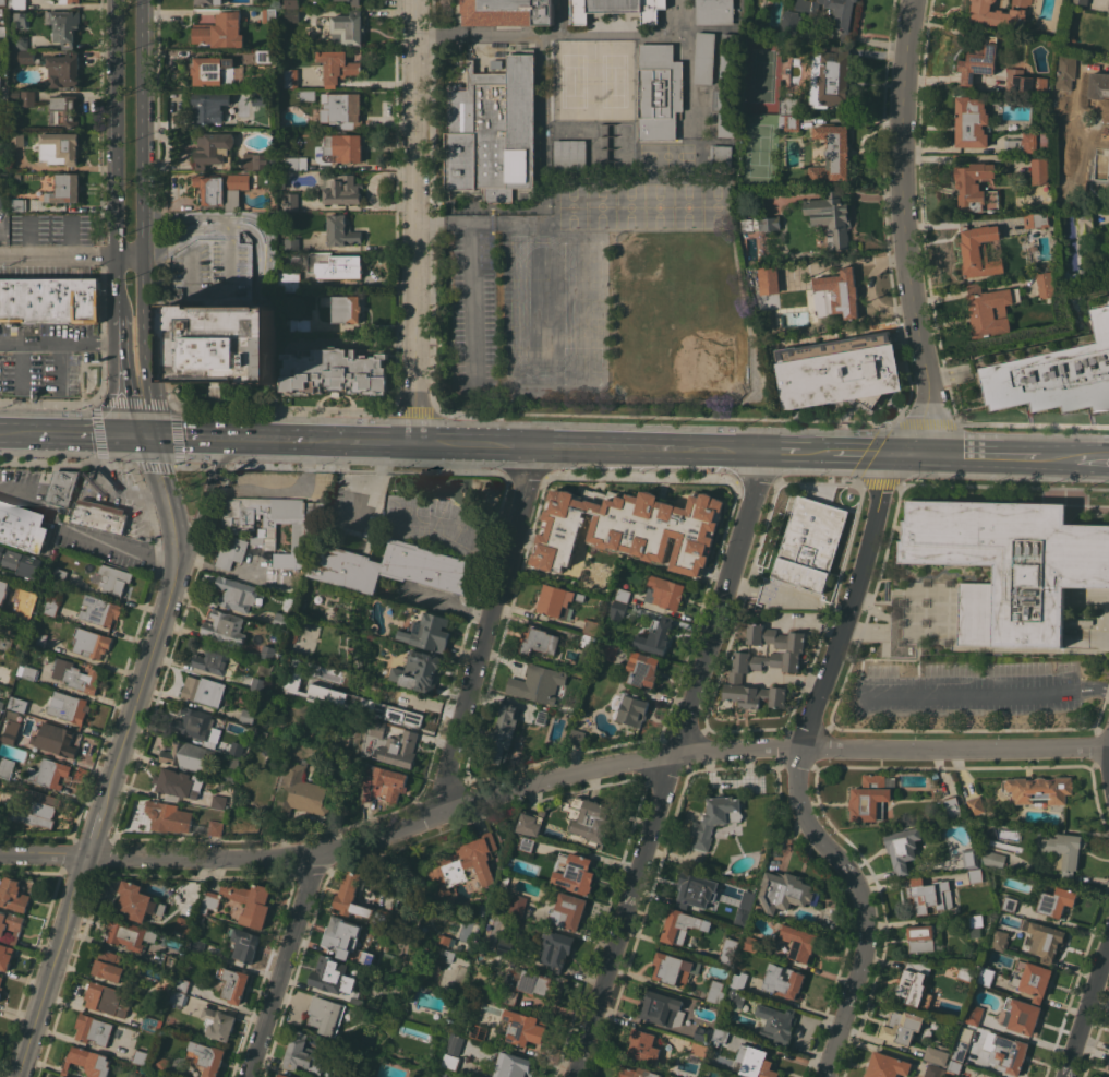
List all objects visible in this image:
building: (69, 1)
building: (209, 1)
building: (1082, 1)
building: (2, 2)
building: (1022, 2)
building: (289, 3)
building: (357, 3)
building: (17, 4)
building: (616, 9)
building: (714, 11)
building: (508, 12)
building: (1108, 12)
building: (291, 13)
building: (997, 14)
building: (269, 15)
building: (20, 20)
building: (842, 24)
building: (64, 26)
building: (348, 27)
building: (220, 31)
road: (639, 33)
road: (507, 35)
building: (21, 43)
building: (23, 56)
building: (266, 56)
building: (704, 58)
building: (727, 58)
building: (979, 58)
building: (497, 63)
building: (337, 65)
building: (3, 69)
building: (64, 70)
building: (215, 71)
building: (1066, 71)
building: (831, 76)
building: (290, 77)
building: (0, 80)
building: (1025, 82)
building: (1099, 85)
building: (660, 92)
building: (14, 94)
building: (308, 95)
building: (261, 97)
building: (27, 98)
building: (789, 105)
building: (209, 107)
building: (1063, 107)
building: (67, 109)
building: (342, 109)
building: (0, 110)
building: (728, 113)
building: (793, 122)
building: (972, 122)
road: (117, 128)
road: (146, 128)
building: (493, 131)
building: (17, 140)
building: (1023, 144)
building: (60, 147)
building: (342, 147)
building: (214, 149)
building: (832, 154)
building: (570, 155)
building: (721, 155)
building: (261, 160)
building: (297, 163)
building: (0, 170)
building: (1040, 170)
building: (17, 177)
building: (340, 187)
building: (65, 188)
building: (224, 188)
building: (976, 188)
building: (1068, 193)
building: (0, 201)
building: (291, 202)
building: (19, 204)
building: (831, 217)
road: (229, 219)
building: (1035, 219)
road: (419, 222)
road: (956, 222)
building: (1086, 222)
road: (220, 223)
building: (761, 223)
building: (341, 230)
road: (904, 231)
road: (266, 243)
building: (979, 250)
road: (58, 256)
road: (132, 256)
building: (335, 265)
road: (261, 268)
road: (473, 278)
building: (769, 279)
building: (290, 280)
building: (1048, 284)
road: (116, 285)
building: (841, 292)
building: (50, 299)
building: (343, 308)
building: (989, 310)
building: (300, 324)
building: (225, 343)
road: (57, 344)
road: (149, 347)
road: (21, 367)
road: (60, 368)
building: (335, 371)
building: (840, 371)
building: (1056, 375)
road: (118, 378)
road: (16, 435)
road: (67, 436)
road: (119, 438)
traffic signals: (140, 438)
road: (224, 439)
road: (328, 441)
road: (384, 442)
road: (475, 444)
road: (602, 448)
road: (719, 451)
road: (783, 452)
road: (818, 453)
road: (868, 455)
traffic signals: (901, 456)
road: (967, 457)
road: (1054, 459)
road: (1092, 459)
road: (153, 464)
road: (360, 481)
road: (112, 487)
building: (59, 489)
road: (279, 492)
road: (204, 503)
road: (37, 506)
building: (96, 516)
building: (273, 524)
building: (22, 526)
building: (629, 527)
building: (810, 543)
road: (122, 548)
building: (231, 552)
building: (20, 562)
building: (1009, 563)
building: (390, 566)
building: (60, 575)
building: (113, 578)
building: (2, 589)
building: (665, 591)
building: (237, 593)
building: (623, 595)
building: (318, 598)
building: (558, 601)
building: (52, 606)
building: (100, 610)
building: (618, 610)
building: (281, 620)
building: (1082, 621)
building: (225, 626)
building: (590, 626)
road: (487, 629)
building: (430, 630)
building: (655, 635)
building: (39, 638)
building: (586, 641)
building: (538, 642)
building: (91, 643)
road: (155, 649)
building: (267, 651)
building: (213, 658)
building: (747, 666)
building: (642, 669)
building: (419, 671)
building: (28, 672)
building: (3, 674)
building: (76, 675)
building: (538, 683)
building: (257, 684)
building: (204, 690)
parking lot: (969, 694)
road: (989, 694)
building: (353, 701)
building: (1, 703)
building: (19, 704)
building: (69, 707)
building: (410, 708)
building: (631, 708)
building: (248, 716)
building: (541, 717)
building: (194, 722)
building: (378, 729)
building: (11, 731)
building: (503, 734)
building: (577, 737)
building: (56, 739)
building: (237, 749)
building: (401, 750)
building: (186, 755)
building: (233, 762)
road: (673, 765)
building: (7, 767)
road: (592, 768)
road: (797, 770)
building: (48, 773)
building: (228, 775)
building: (384, 781)
building: (178, 785)
building: (1039, 789)
building: (299, 792)
building: (871, 797)
building: (220, 801)
building: (976, 805)
building: (953, 807)
building: (38, 809)
building: (170, 816)
building: (589, 818)
building: (714, 818)
building: (531, 823)
building: (200, 827)
building: (216, 827)
road: (95, 830)
building: (527, 843)
building: (903, 847)
building: (1063, 852)
road: (43, 853)
building: (971, 858)
building: (993, 858)
building: (465, 864)
building: (576, 874)
building: (976, 875)
road: (80, 877)
building: (505, 883)
building: (696, 890)
building: (785, 891)
building: (930, 894)
building: (13, 895)
building: (346, 897)
building: (138, 901)
building: (210, 901)
building: (1056, 901)
building: (251, 902)
building: (1009, 904)
building: (517, 906)
building: (568, 910)
building: (742, 916)
building: (201, 919)
building: (975, 923)
building: (11, 924)
building: (184, 924)
building: (682, 925)
building: (130, 934)
building: (341, 935)
building: (920, 937)
building: (445, 940)
building: (1000, 940)
building: (1046, 941)
building: (799, 942)
building: (751, 943)
building: (244, 944)
building: (196, 946)
building: (506, 946)
building: (474, 947)
building: (554, 948)
building: (728, 950)
building: (462, 952)
building: (447, 955)
building: (5, 956)
building: (365, 958)
building: (169, 964)
road: (285, 965)
building: (109, 966)
building: (674, 968)
building: (966, 972)
building: (333, 974)
building: (986, 976)
building: (1033, 979)
building: (739, 980)
building: (784, 981)
building: (233, 983)
building: (915, 983)
building: (1, 984)
building: (181, 984)
building: (530, 986)
road: (45, 989)
building: (716, 992)
building: (164, 993)
building: (357, 993)
building: (0, 996)
building: (178, 997)
building: (107, 998)
building: (735, 998)
building: (661, 1008)
road: (1087, 1010)
building: (973, 1013)
building: (326, 1015)
building: (1022, 1015)
building: (152, 1024)
building: (218, 1024)
building: (776, 1025)
building: (522, 1027)
building: (902, 1027)
building: (94, 1030)
building: (479, 1031)
building: (703, 1034)
building: (720, 1038)
building: (328, 1043)
building: (455, 1043)
building: (643, 1046)
building: (699, 1049)
building: (960, 1050)
building: (1006, 1052)
building: (303, 1054)
building: (937, 1055)
building: (140, 1056)
building: (206, 1058)
building: (450, 1061)
building: (88, 1062)
building: (160, 1062)
building: (758, 1064)
building: (887, 1065)
building: (513, 1066)
building: (954, 1067)
building: (933, 1070)
building: (637, 1073)
building: (328, 1074)
building: (284, 1075)
building: (1108, 1075)
building: (59, 1076)
building: (61, 1076)
building: (171, 1076)

